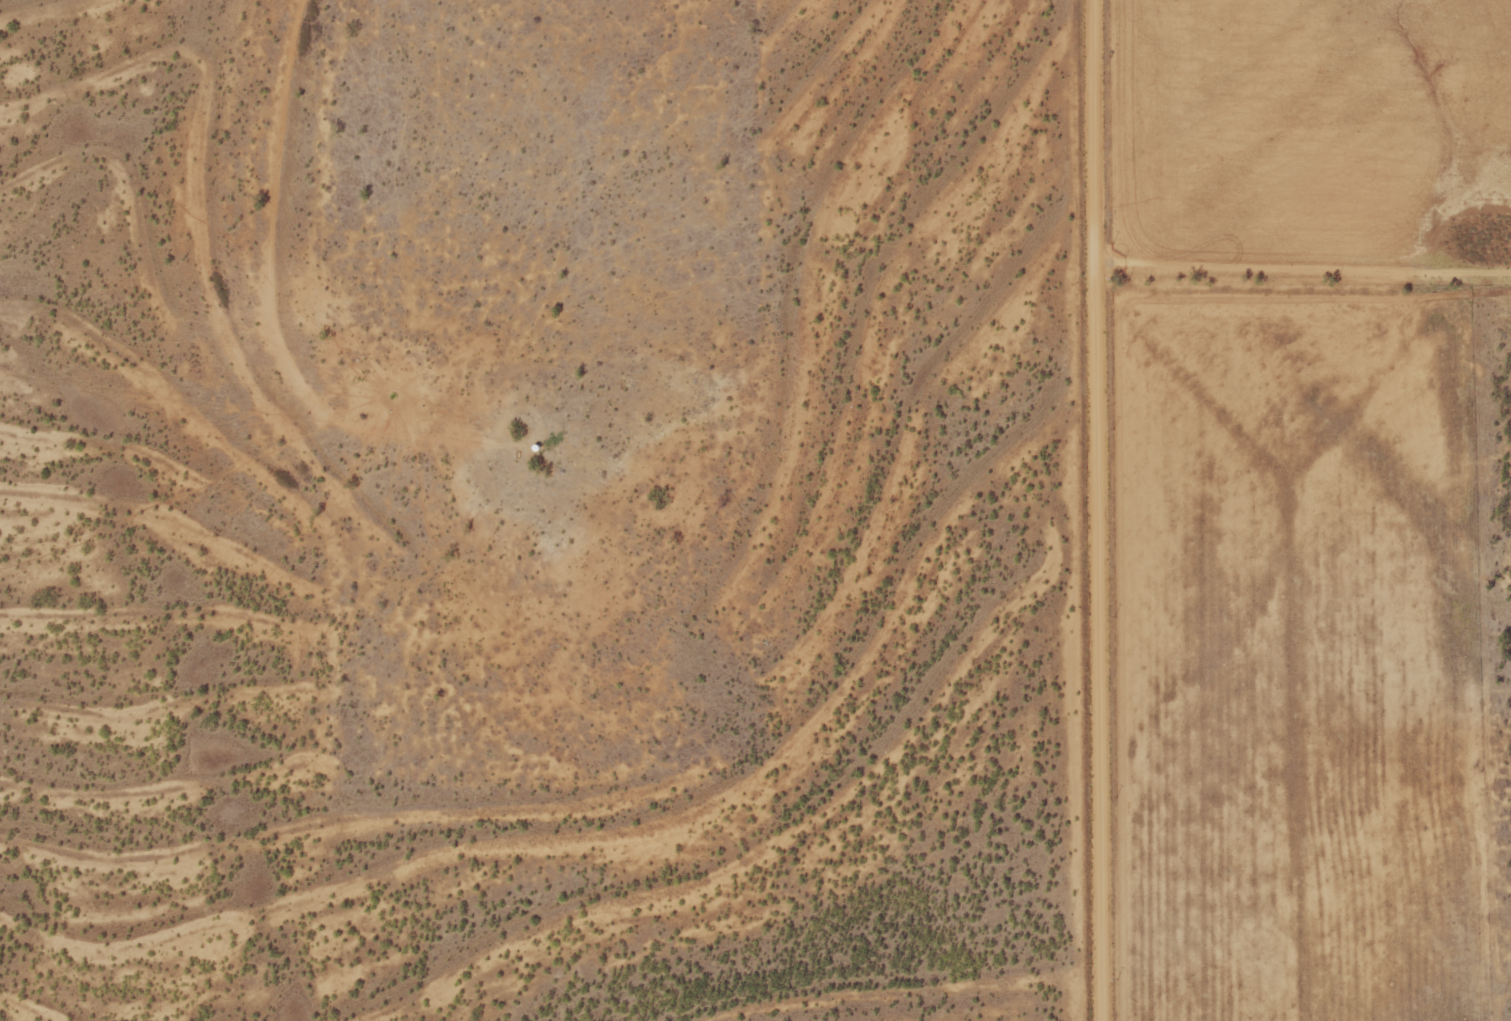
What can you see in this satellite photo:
road: (1099, 510)

